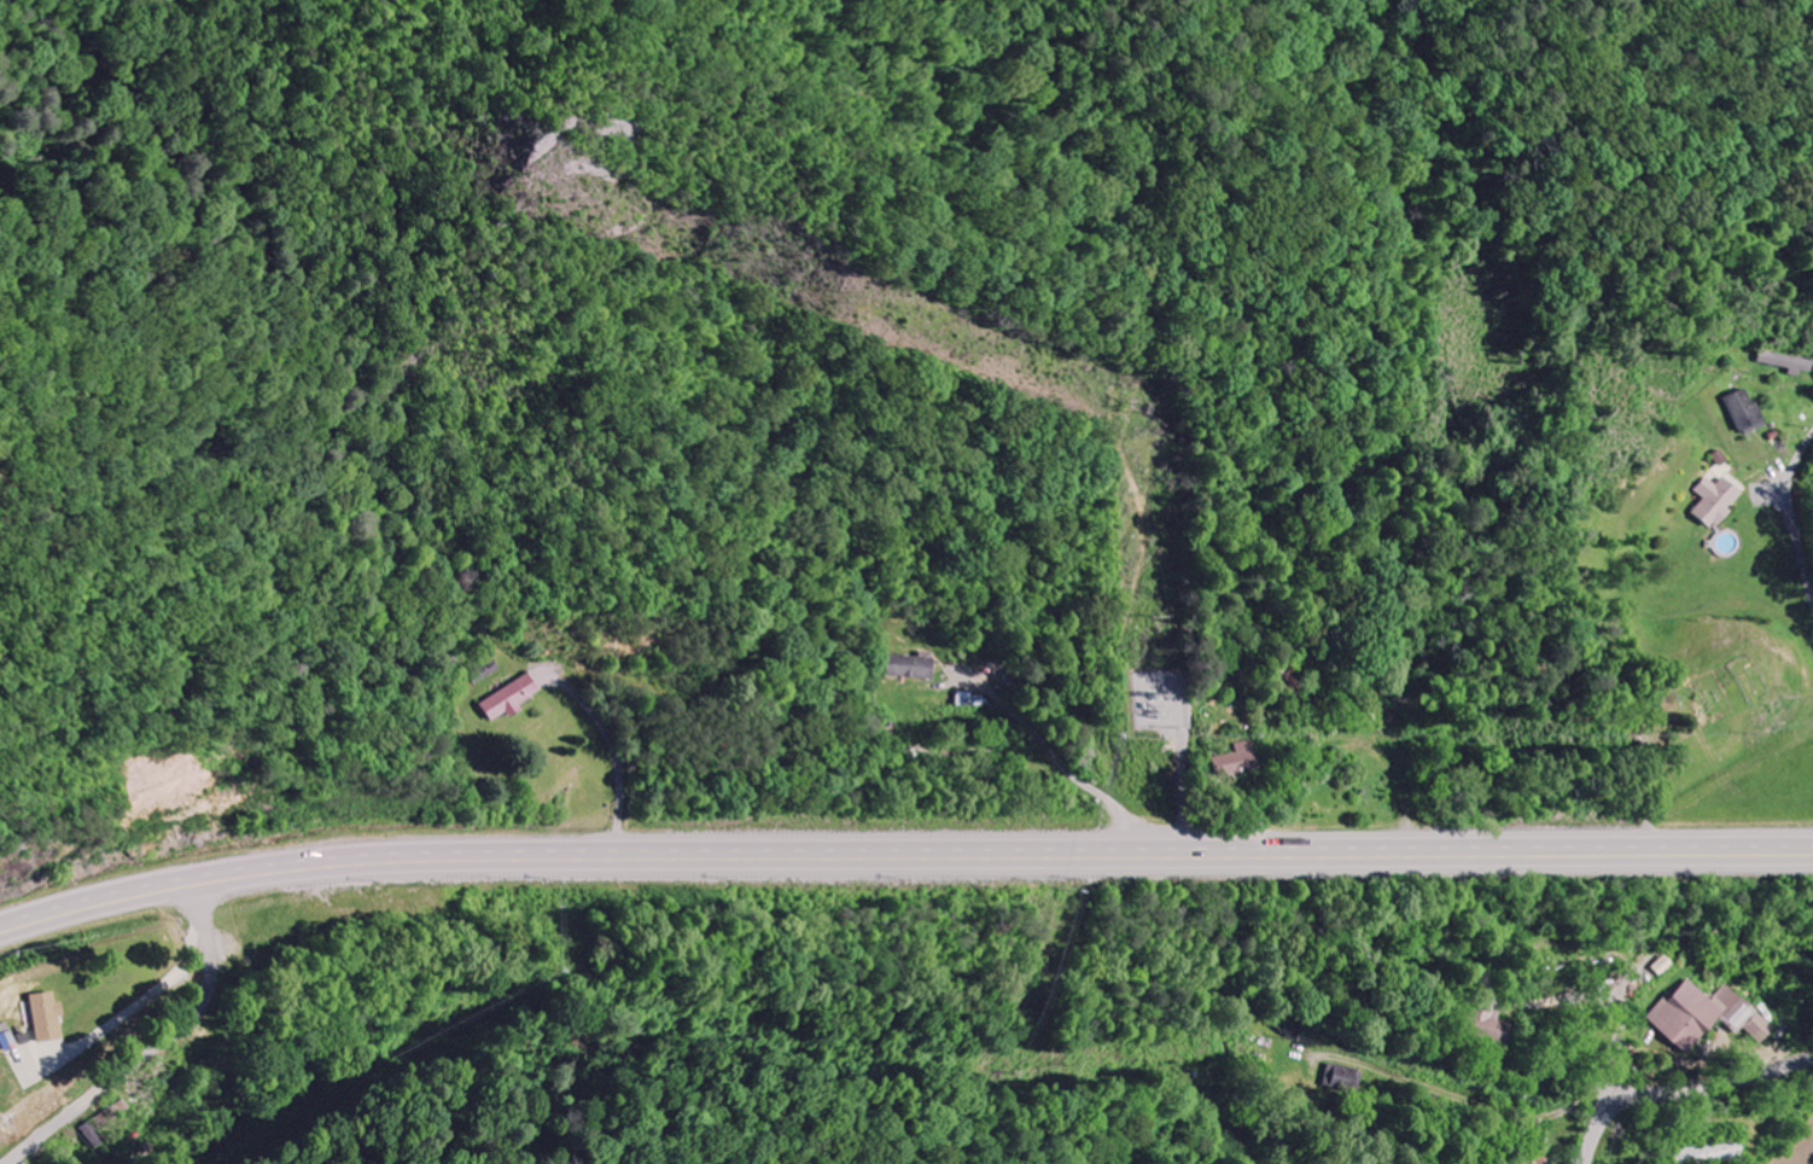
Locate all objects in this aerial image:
building: (1748, 413)
building: (1716, 501)
road: (1792, 514)
building: (909, 667)
building: (508, 698)
building: (1235, 761)
road: (1648, 790)
road: (903, 859)
road: (1515, 991)
building: (45, 1015)
building: (1704, 1015)
building: (1483, 1026)
road: (257, 1053)
building: (1342, 1078)
road: (1680, 1090)
road: (1467, 1092)
building: (109, 1114)
building: (1710, 1154)

